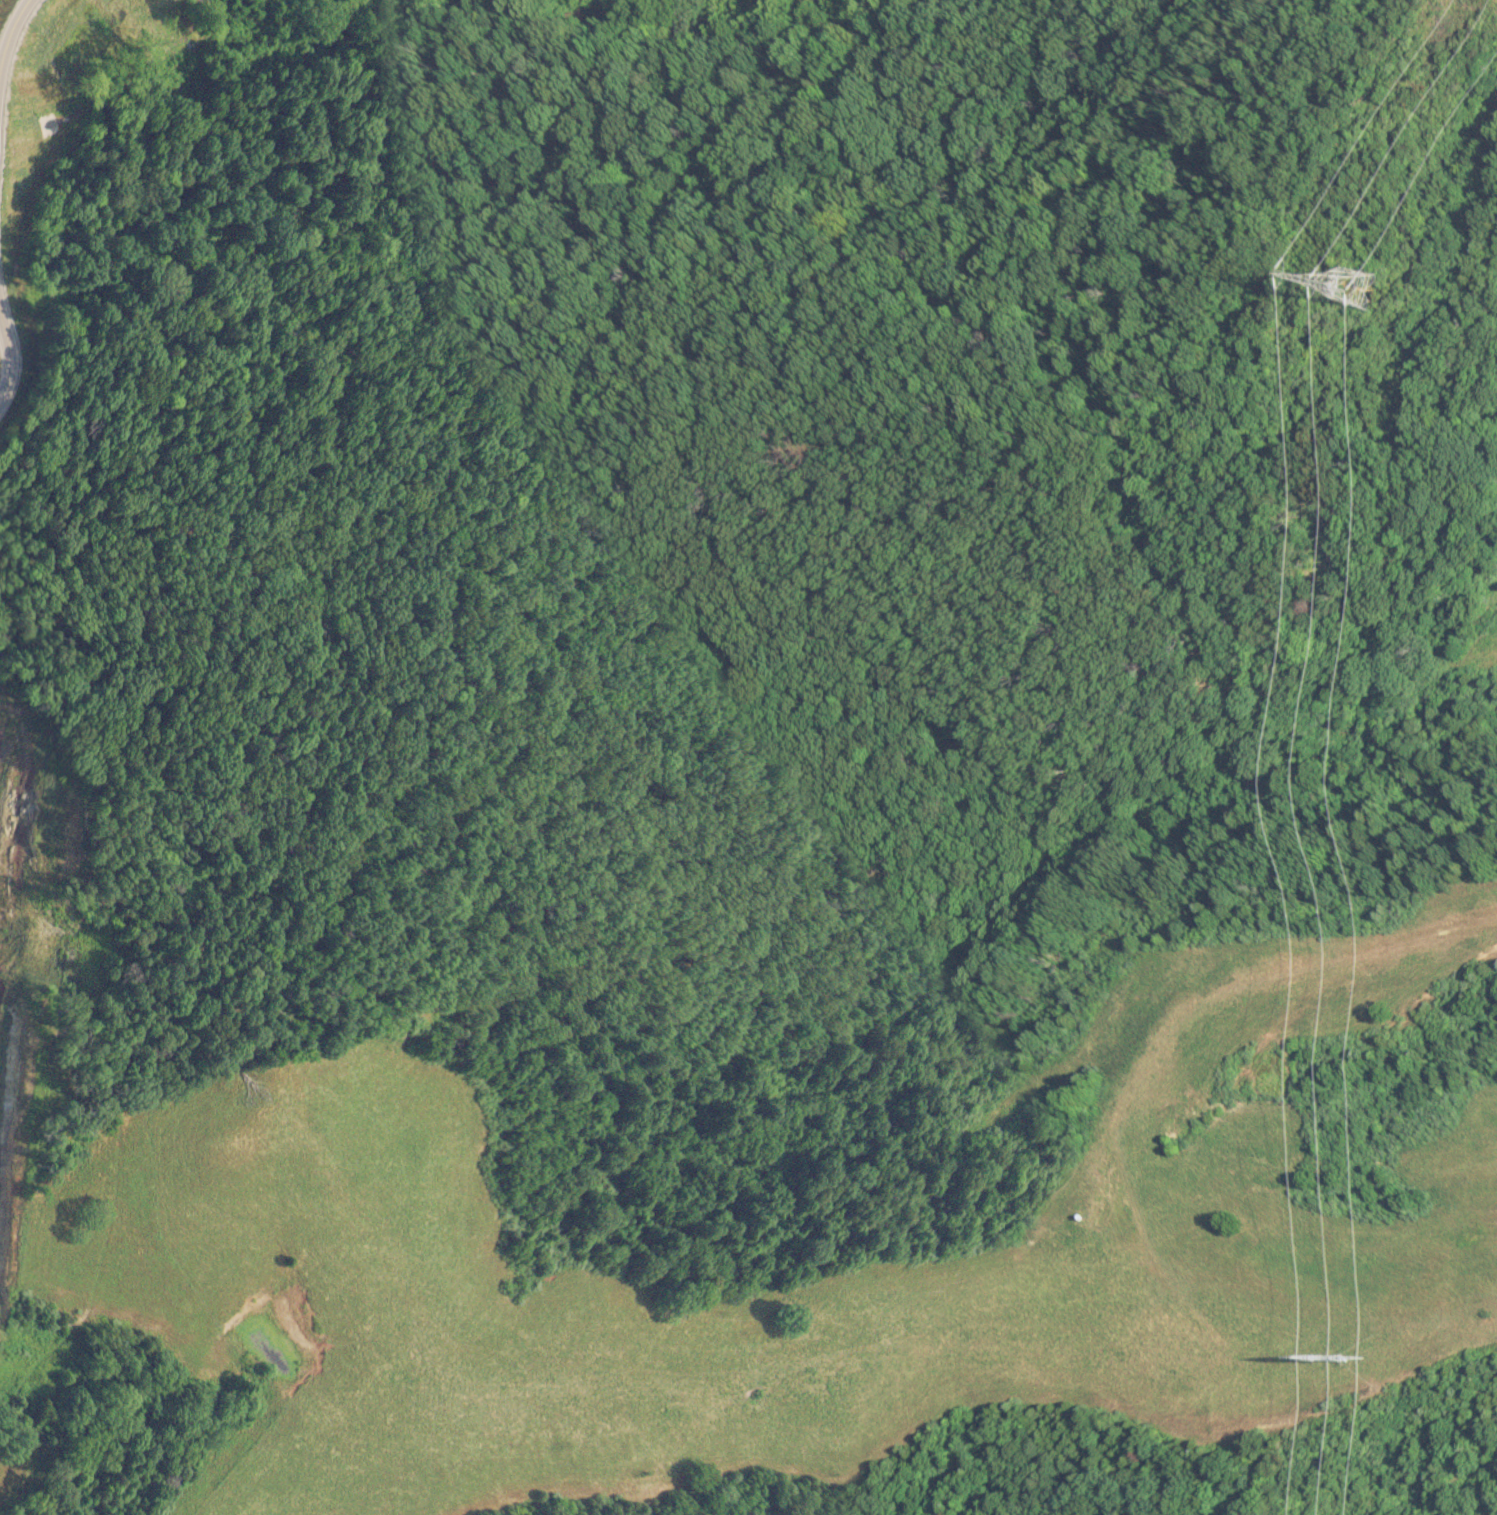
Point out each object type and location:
building: (67, 26)
road: (12, 38)
building: (4, 135)
power tower: (1364, 293)
road: (10, 345)
power tower: (1347, 1363)

